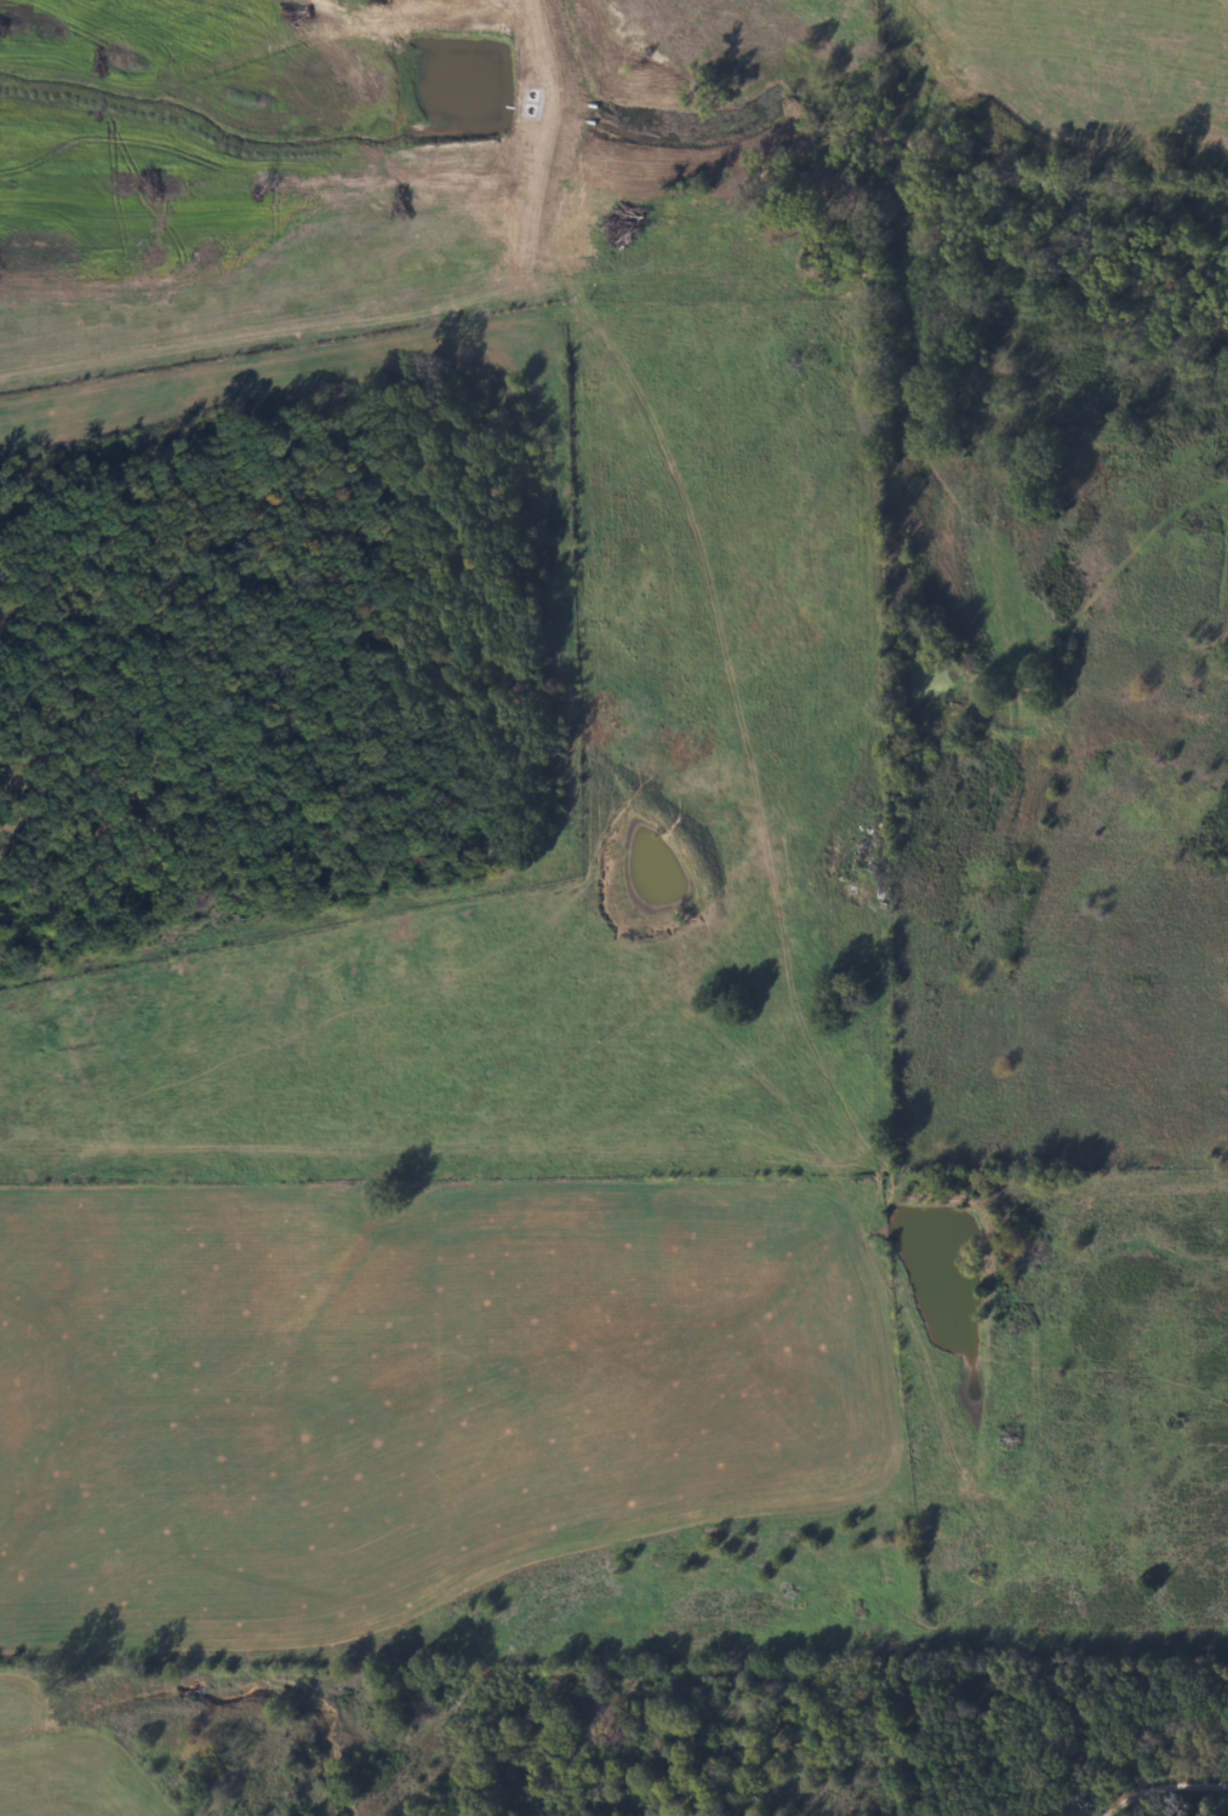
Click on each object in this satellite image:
road: (1160, 1781)

